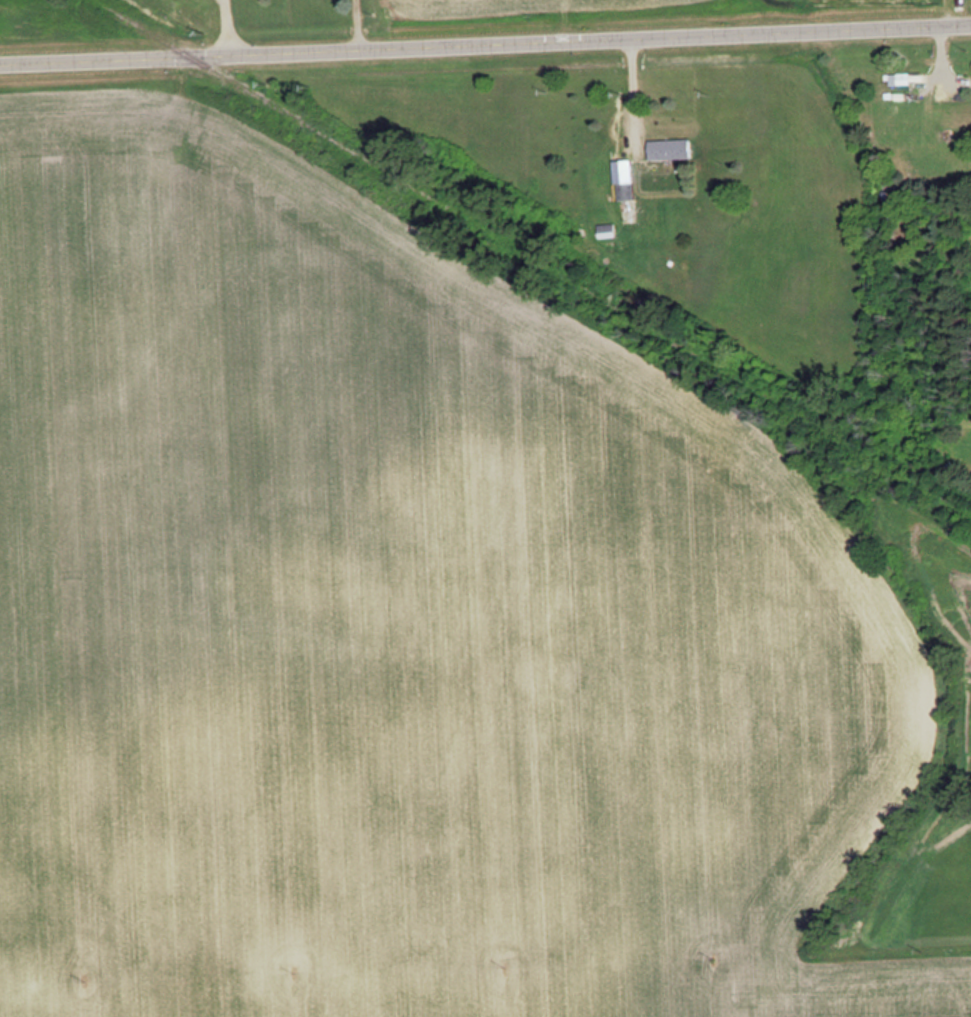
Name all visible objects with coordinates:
road: (485, 43)
building: (670, 149)
building: (624, 179)
railway: (533, 256)

